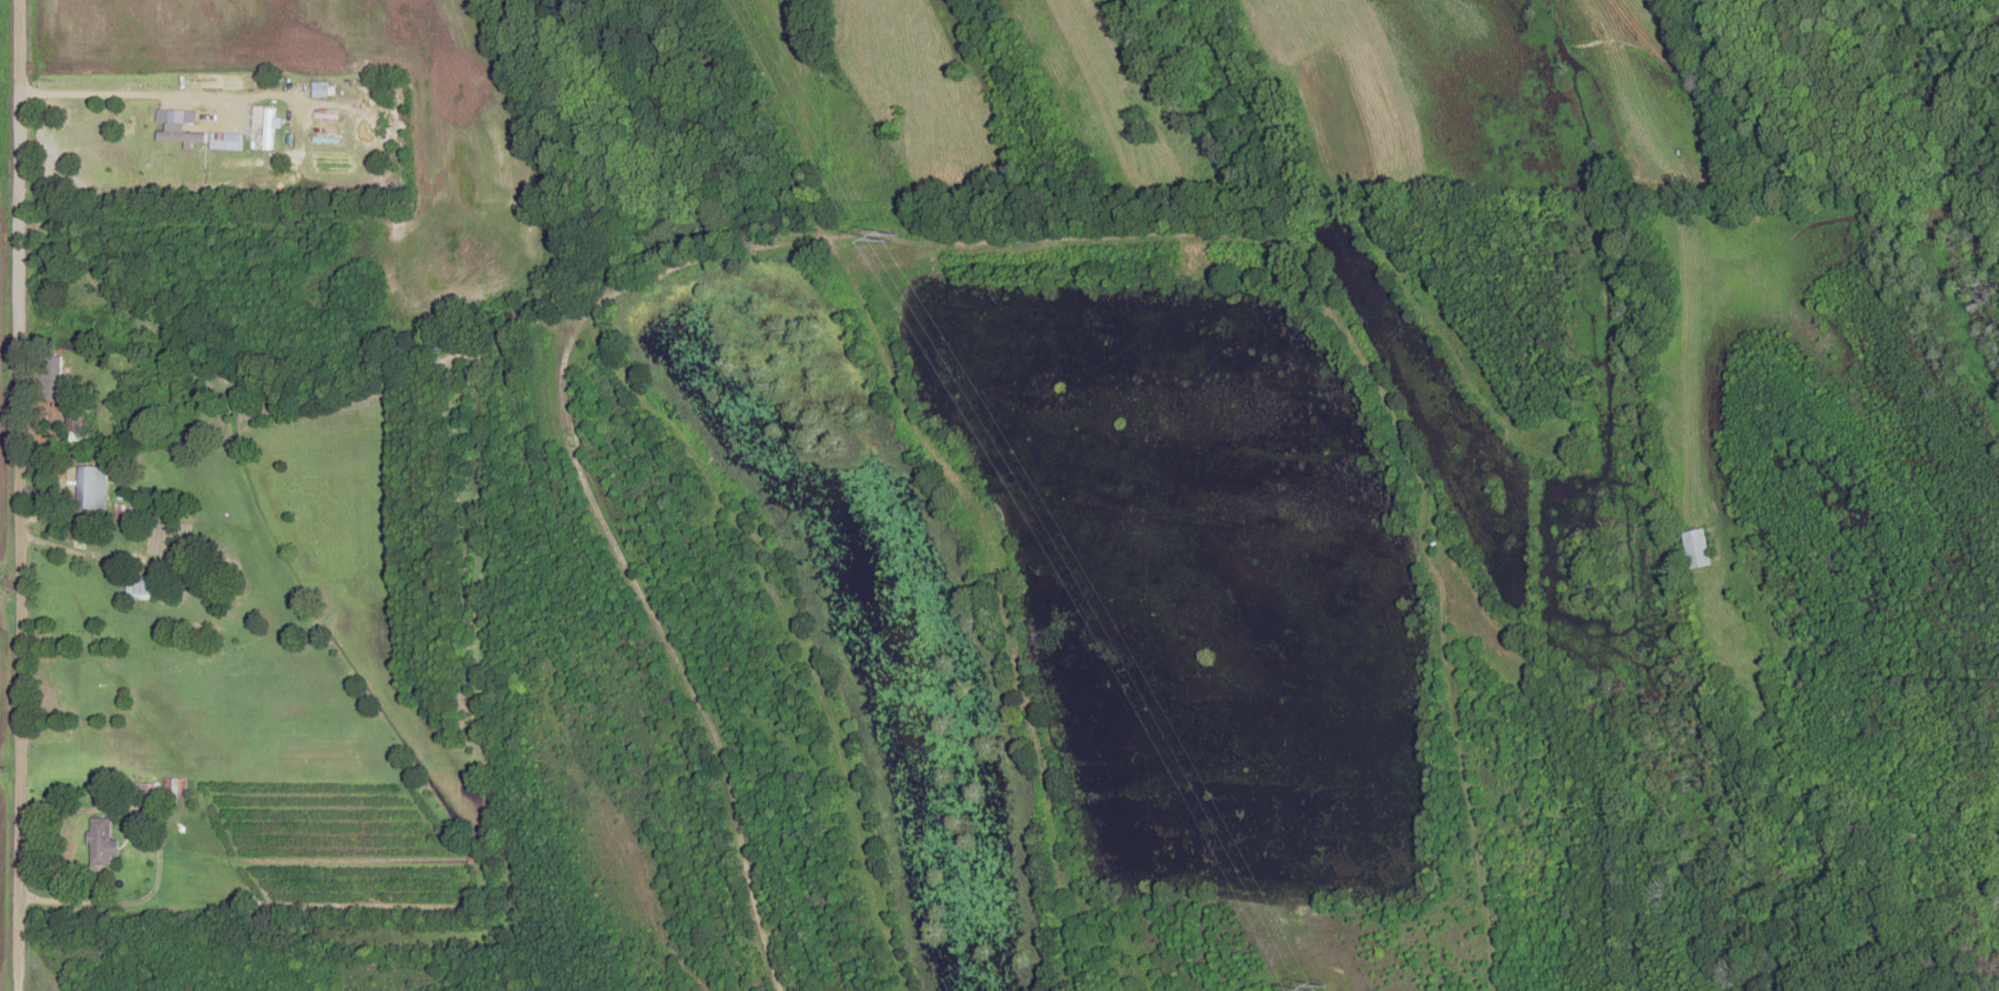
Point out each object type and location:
building: (320, 89)
road: (158, 94)
building: (269, 128)
building: (227, 140)
building: (53, 374)
building: (77, 429)
building: (92, 485)
road: (14, 495)
building: (1698, 547)
road: (74, 552)
building: (140, 586)
road: (7, 653)
building: (90, 686)
building: (175, 787)
building: (151, 789)
building: (103, 840)
road: (105, 904)

